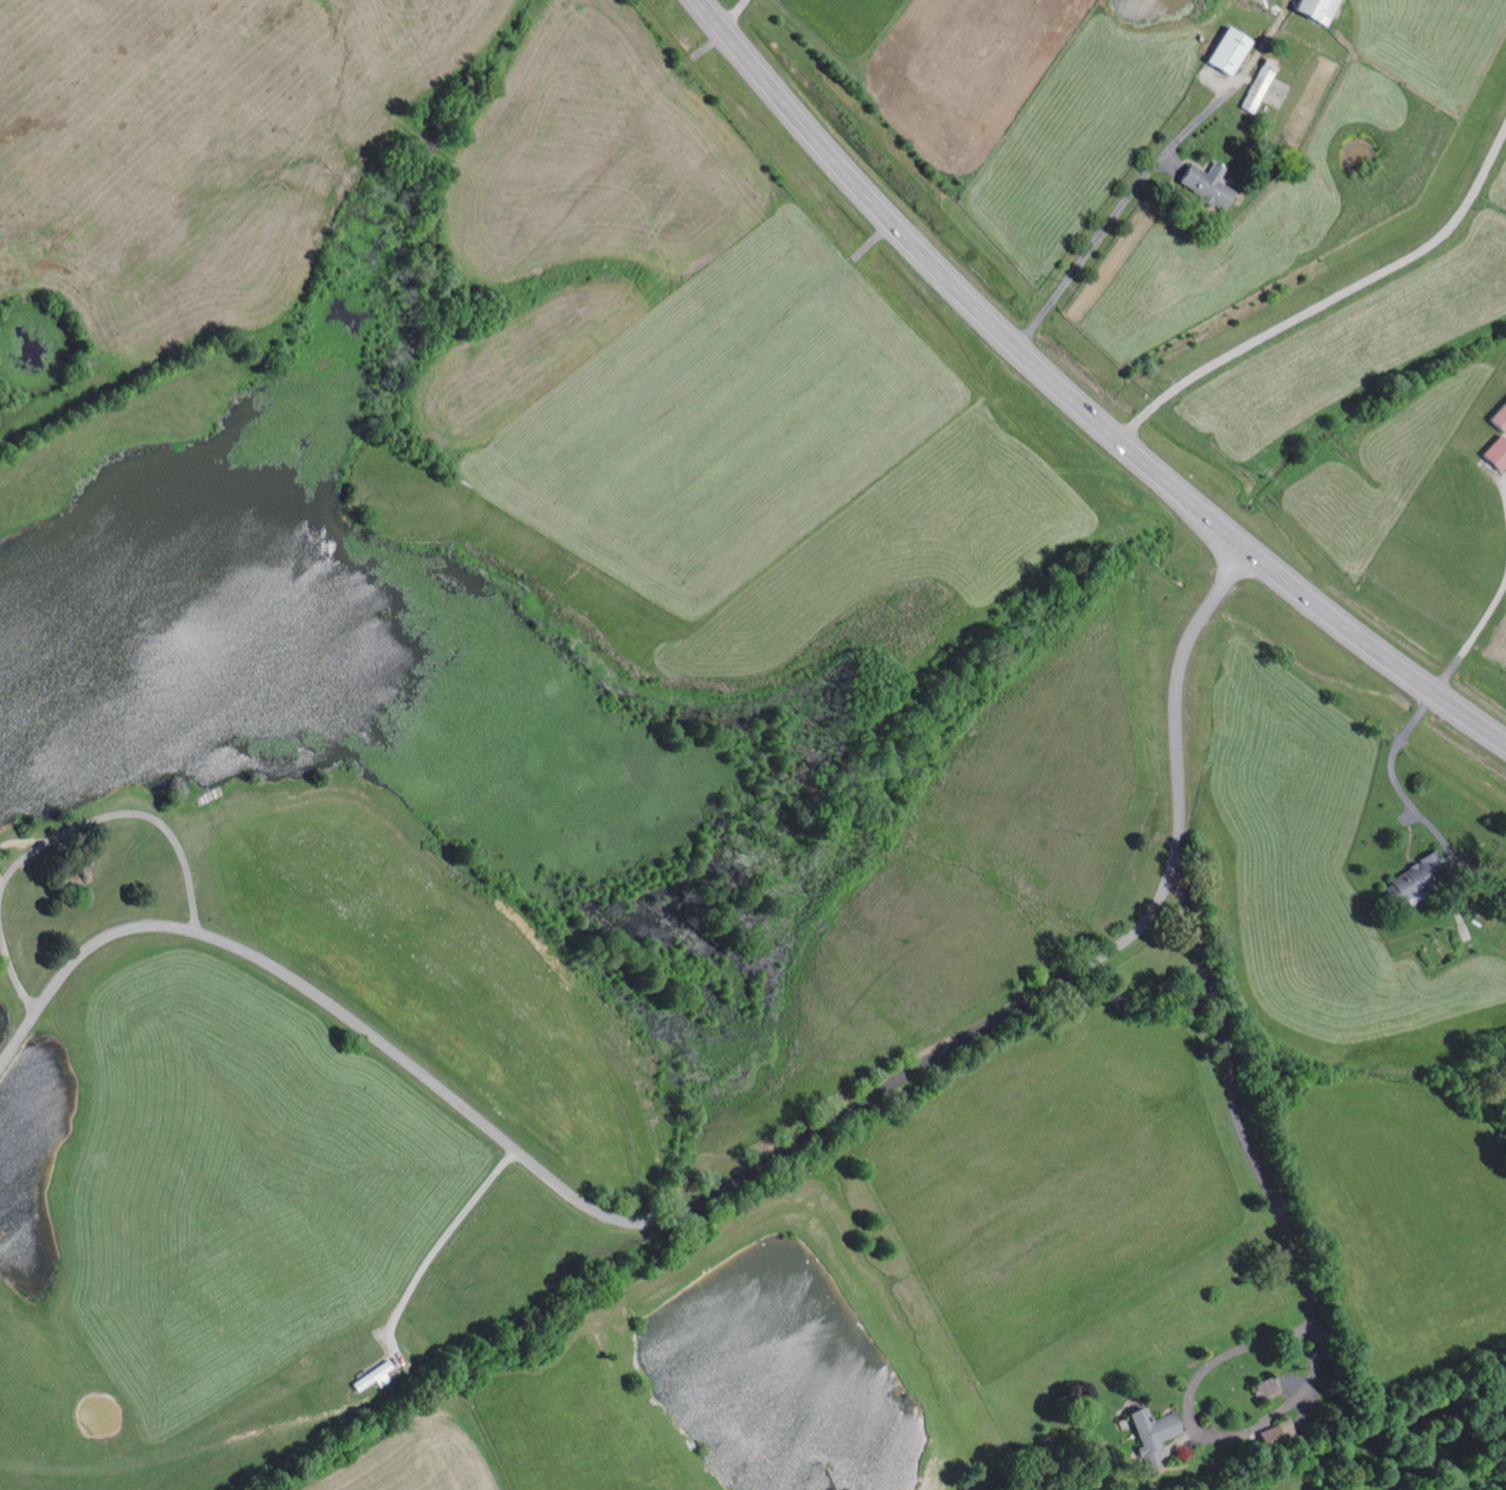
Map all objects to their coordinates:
building: (1312, 10)
building: (1226, 52)
building: (1257, 86)
building: (1203, 185)
road: (1074, 399)
building: (1499, 416)
building: (1496, 452)
road: (124, 803)
building: (1413, 876)
road: (16, 975)
road: (1302, 1122)
road: (747, 1177)
building: (373, 1376)
building: (1266, 1386)
building: (1154, 1428)

